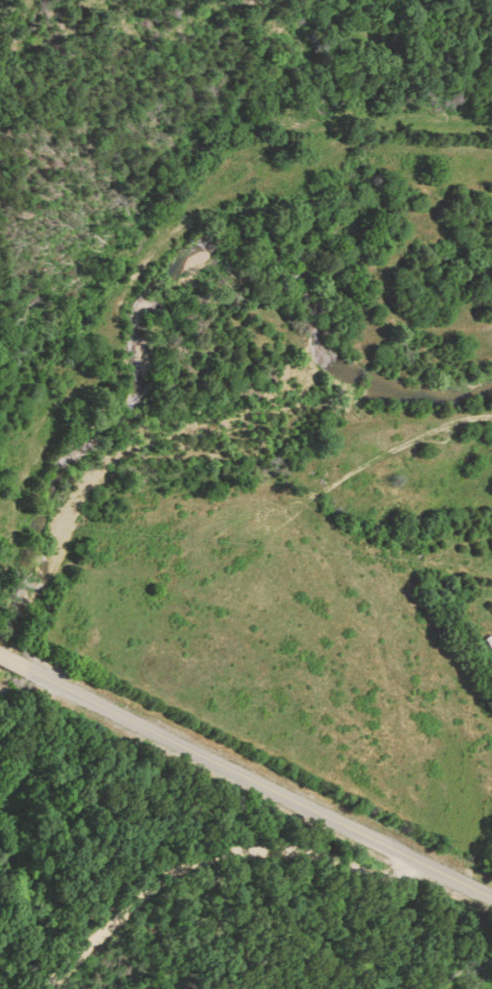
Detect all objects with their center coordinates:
road: (251, 767)
road: (207, 864)

